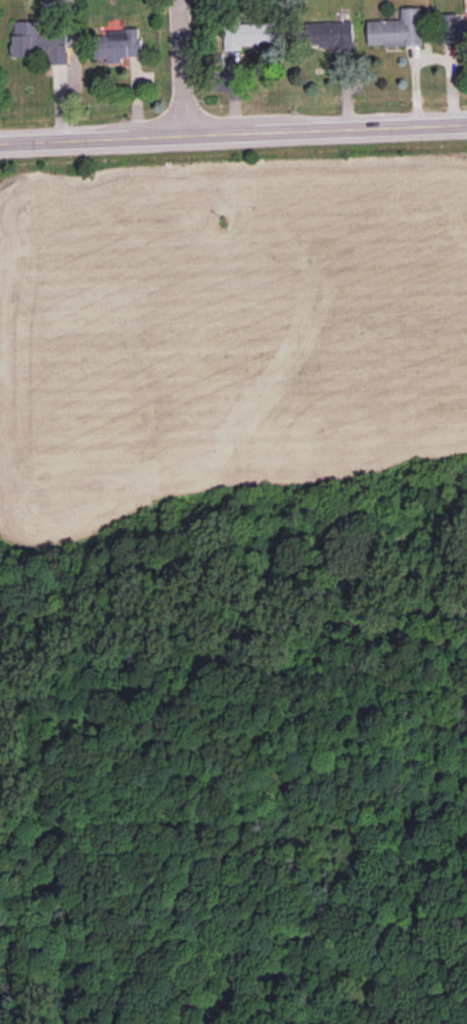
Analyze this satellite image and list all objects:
building: (454, 28)
building: (397, 29)
building: (248, 34)
building: (332, 34)
building: (39, 41)
building: (117, 44)
road: (176, 66)
road: (233, 130)

